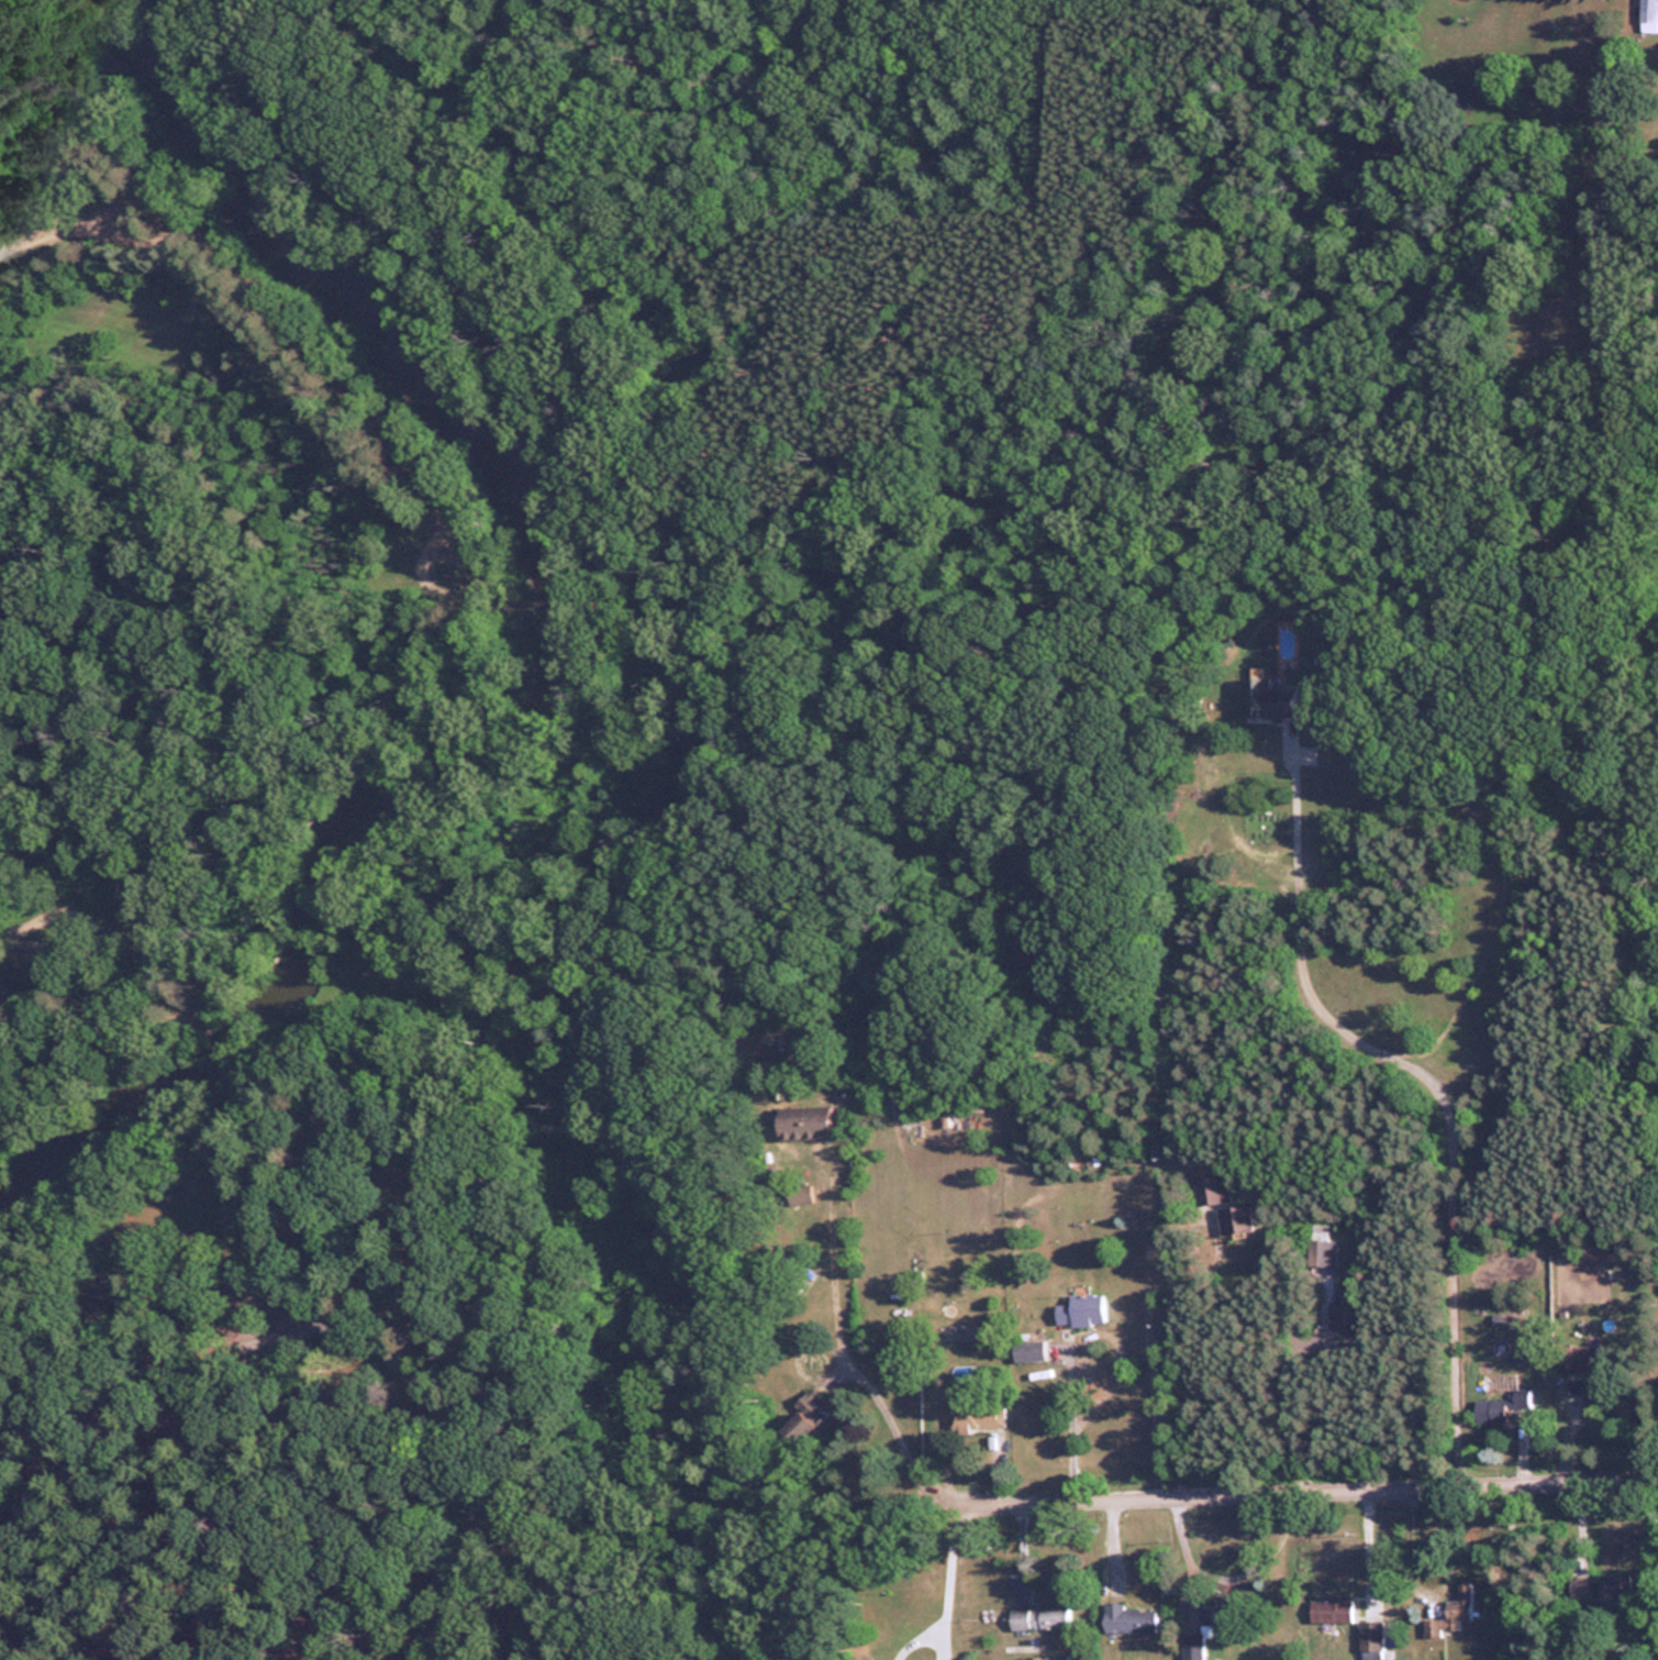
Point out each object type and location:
building: (1649, 12)
road: (77, 225)
road: (420, 568)
road: (479, 599)
river: (538, 655)
building: (1270, 700)
park: (394, 843)
road: (103, 963)
road: (209, 1038)
road: (1429, 1083)
building: (808, 1124)
road: (101, 1162)
building: (1211, 1191)
road: (202, 1214)
building: (1235, 1220)
building: (1322, 1247)
building: (1346, 1308)
building: (1082, 1310)
road: (1176, 1349)
building: (1030, 1351)
building: (1583, 1358)
road: (405, 1375)
road: (875, 1401)
road: (1291, 1404)
building: (1501, 1407)
building: (973, 1412)
building: (809, 1417)
road: (1071, 1425)
road: (66, 1468)
road: (1359, 1487)
road: (1365, 1546)
road: (10, 1547)
road: (1188, 1553)
road: (10, 1564)
road: (949, 1578)
building: (1579, 1589)
building: (1614, 1589)
building: (1332, 1612)
building: (1451, 1612)
building: (1222, 1613)
building: (1041, 1618)
building: (1130, 1619)
building: (1371, 1640)
building: (1193, 1646)
building: (1035, 1658)

